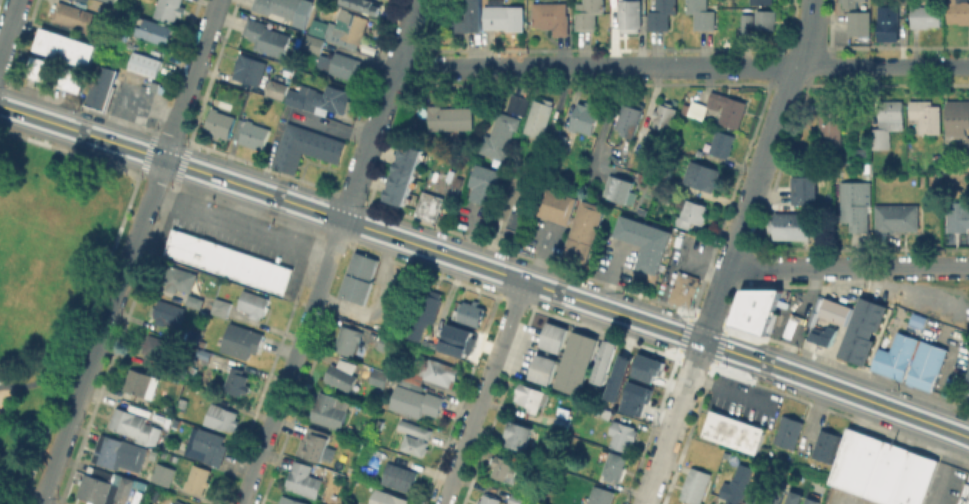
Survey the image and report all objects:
building: (382, 0)
building: (109, 1)
building: (761, 1)
building: (850, 3)
building: (362, 7)
building: (279, 8)
building: (170, 9)
building: (958, 11)
road: (412, 14)
building: (589, 14)
building: (662, 14)
building: (702, 14)
building: (630, 15)
building: (925, 15)
building: (504, 16)
building: (551, 16)
building: (80, 17)
building: (466, 17)
building: (765, 18)
building: (748, 20)
building: (889, 20)
building: (860, 22)
road: (9, 27)
building: (319, 27)
building: (351, 27)
building: (156, 30)
building: (125, 34)
building: (265, 37)
building: (314, 43)
building: (67, 46)
building: (146, 63)
building: (341, 64)
road: (682, 66)
building: (41, 68)
building: (250, 69)
building: (74, 78)
building: (102, 85)
building: (277, 90)
building: (297, 98)
building: (334, 98)
building: (515, 103)
building: (727, 106)
building: (696, 110)
building: (927, 115)
building: (450, 117)
building: (584, 117)
building: (664, 117)
building: (958, 117)
building: (539, 120)
building: (631, 120)
building: (220, 122)
building: (831, 122)
building: (888, 122)
road: (376, 124)
building: (451, 132)
road: (772, 132)
building: (252, 133)
building: (498, 135)
building: (561, 140)
building: (722, 143)
building: (968, 145)
building: (306, 146)
building: (538, 159)
road: (137, 160)
building: (964, 165)
building: (703, 175)
building: (404, 179)
building: (485, 182)
road: (191, 188)
building: (803, 190)
building: (618, 192)
building: (553, 204)
building: (430, 205)
road: (247, 207)
building: (854, 208)
building: (692, 213)
building: (958, 215)
building: (897, 217)
road: (298, 224)
road: (241, 225)
building: (791, 225)
building: (518, 227)
building: (582, 231)
building: (645, 244)
road: (130, 252)
building: (226, 260)
road: (485, 267)
road: (916, 267)
road: (795, 268)
building: (360, 277)
park: (46, 278)
building: (180, 278)
building: (684, 290)
road: (915, 295)
building: (195, 300)
building: (428, 301)
building: (254, 303)
road: (715, 303)
building: (221, 306)
building: (834, 310)
building: (169, 312)
building: (757, 312)
building: (471, 313)
building: (919, 322)
building: (790, 326)
building: (862, 331)
building: (821, 333)
building: (552, 336)
building: (243, 339)
building: (351, 341)
building: (457, 341)
building: (389, 343)
building: (156, 346)
building: (205, 353)
building: (607, 359)
building: (909, 360)
building: (199, 361)
building: (574, 361)
road: (292, 362)
building: (619, 366)
building: (646, 367)
building: (540, 368)
building: (436, 371)
building: (342, 374)
building: (967, 375)
road: (43, 376)
building: (379, 377)
building: (237, 380)
building: (141, 382)
building: (952, 386)
road: (484, 392)
building: (533, 396)
building: (634, 397)
building: (416, 400)
building: (329, 409)
building: (604, 411)
building: (221, 416)
road: (673, 422)
building: (131, 423)
building: (562, 423)
building: (785, 430)
building: (522, 431)
building: (623, 434)
building: (417, 436)
building: (734, 436)
building: (316, 440)
building: (824, 445)
building: (210, 446)
building: (115, 449)
building: (503, 466)
building: (613, 467)
road: (945, 468)
building: (881, 469)
building: (160, 473)
building: (398, 474)
building: (197, 479)
building: (303, 479)
building: (736, 483)
building: (105, 485)
building: (695, 485)
building: (760, 489)
building: (778, 492)
road: (15, 494)
building: (964, 494)
building: (601, 495)
building: (796, 496)
building: (387, 497)
building: (489, 499)
building: (516, 499)
building: (815, 500)
building: (295, 501)
building: (180, 502)

